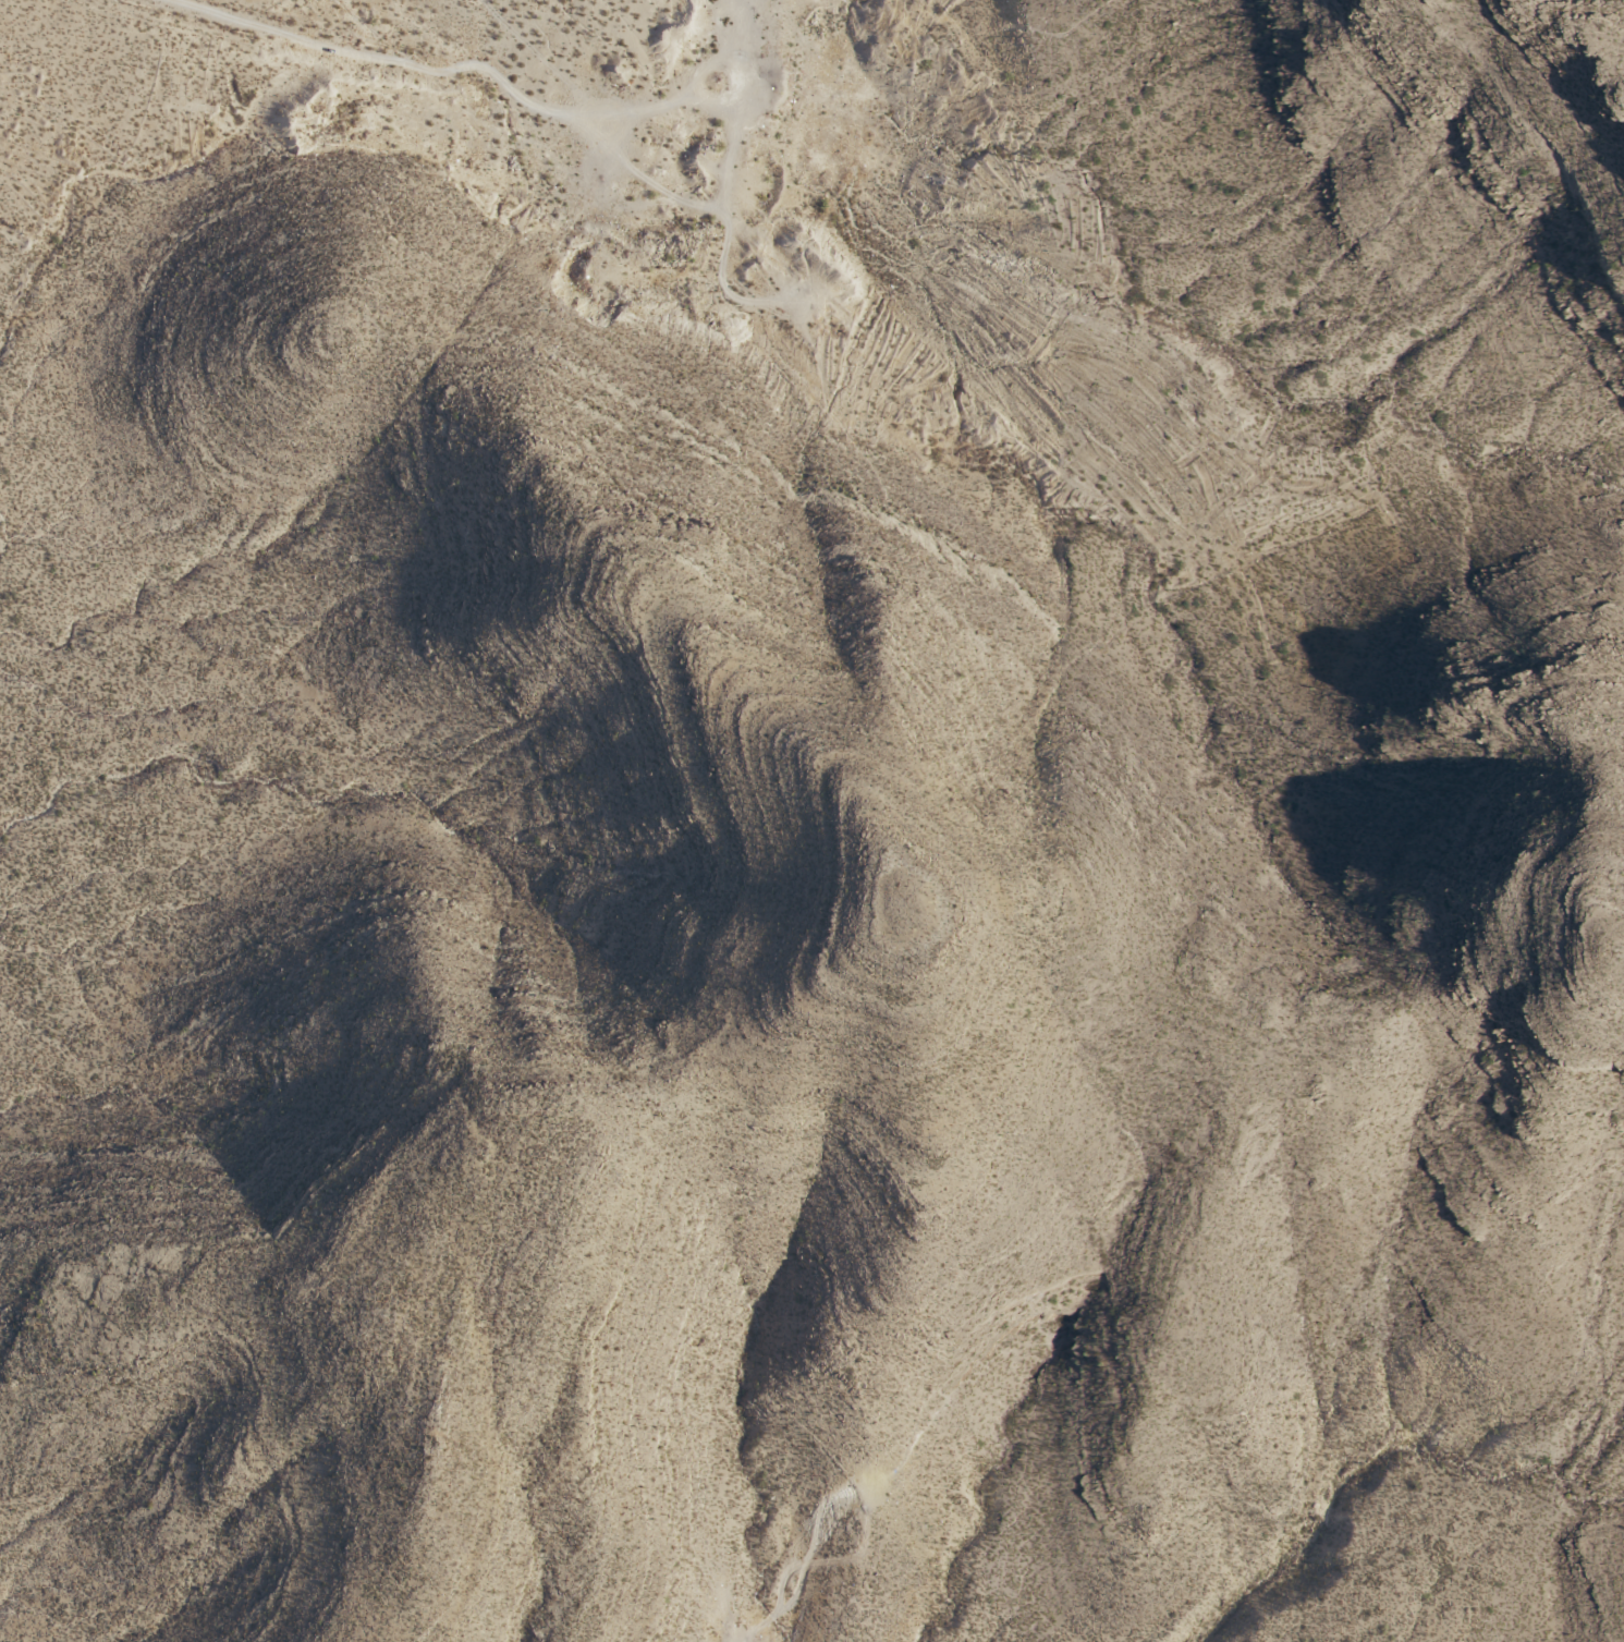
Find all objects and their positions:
road: (801, 1567)

